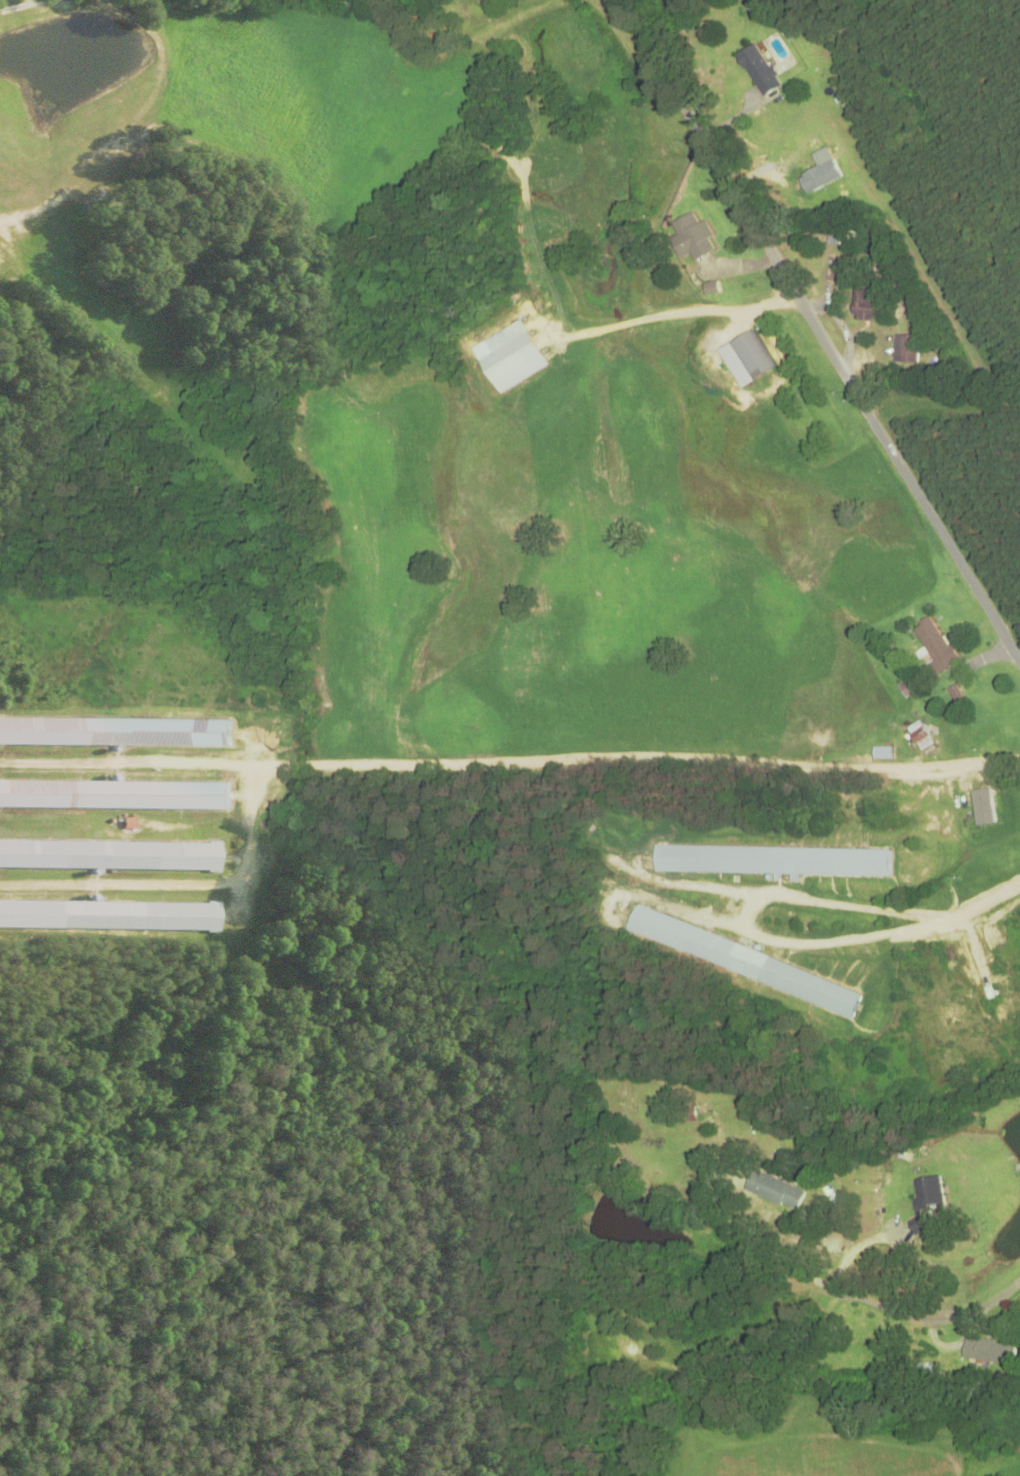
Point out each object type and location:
building: (757, 70)
building: (843, 237)
building: (691, 238)
building: (864, 305)
road: (822, 333)
building: (908, 348)
building: (751, 354)
building: (510, 358)
building: (932, 648)
building: (115, 732)
building: (882, 754)
building: (114, 795)
building: (104, 855)
building: (772, 861)
building: (104, 916)
building: (742, 962)
building: (773, 1191)
building: (926, 1203)
road: (942, 1315)
building: (619, 1346)
building: (987, 1352)

